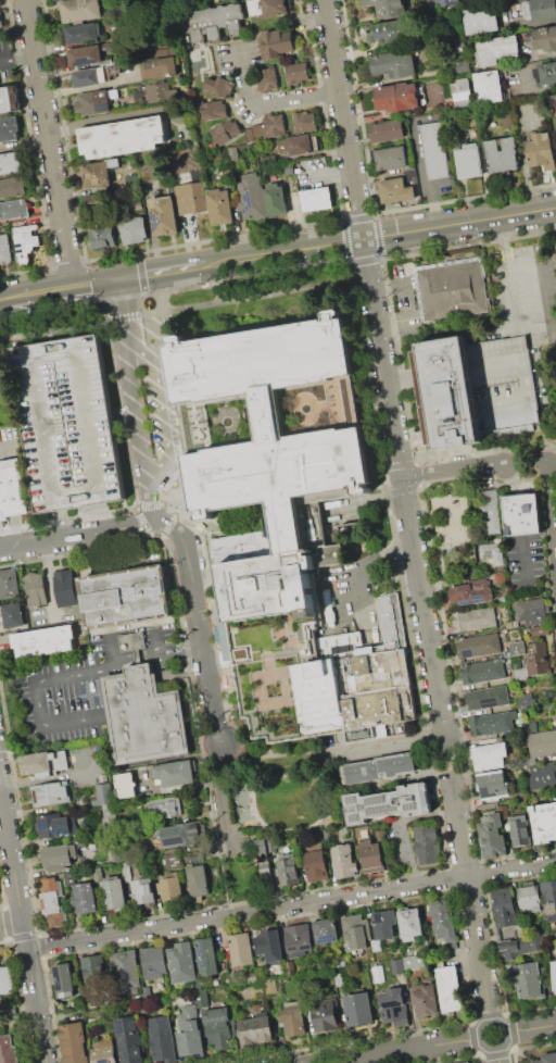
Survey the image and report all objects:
building: (51, 0)
building: (445, 3)
building: (268, 8)
building: (387, 8)
building: (539, 9)
building: (79, 10)
building: (211, 21)
building: (480, 21)
building: (387, 30)
building: (83, 34)
building: (544, 38)
building: (275, 43)
building: (496, 49)
building: (89, 53)
road: (17, 55)
building: (393, 64)
building: (459, 65)
building: (166, 66)
road: (242, 70)
building: (545, 73)
building: (296, 74)
building: (94, 75)
building: (266, 78)
building: (220, 87)
building: (488, 87)
road: (531, 90)
building: (160, 91)
building: (463, 92)
building: (396, 97)
road: (291, 99)
building: (9, 100)
building: (93, 102)
building: (213, 111)
building: (303, 121)
building: (507, 121)
building: (275, 126)
building: (9, 128)
building: (387, 130)
building: (225, 132)
building: (121, 137)
road: (49, 142)
building: (295, 146)
building: (434, 150)
building: (540, 151)
building: (232, 153)
building: (502, 154)
building: (390, 158)
building: (268, 161)
building: (469, 161)
building: (10, 162)
road: (420, 162)
building: (146, 172)
building: (99, 173)
road: (325, 174)
building: (12, 186)
building: (395, 190)
building: (191, 195)
building: (251, 196)
building: (316, 198)
building: (275, 200)
building: (219, 207)
building: (13, 209)
building: (163, 215)
building: (135, 230)
road: (376, 237)
building: (100, 240)
building: (25, 242)
road: (505, 242)
building: (555, 243)
building: (4, 249)
road: (159, 272)
traffic signals: (122, 278)
road: (97, 282)
road: (392, 287)
building: (451, 290)
road: (37, 291)
road: (1, 297)
road: (126, 310)
road: (542, 324)
road: (144, 353)
road: (383, 367)
building: (505, 385)
parking garage: (505, 385)
building: (454, 392)
road: (137, 414)
building: (68, 423)
parking lot: (68, 423)
road: (167, 429)
building: (271, 450)
road: (552, 461)
road: (526, 463)
road: (452, 467)
building: (12, 488)
road: (150, 502)
building: (489, 510)
building: (522, 515)
road: (551, 520)
park: (454, 529)
road: (78, 535)
building: (492, 552)
road: (99, 554)
road: (362, 574)
building: (498, 576)
building: (10, 583)
building: (66, 588)
building: (35, 589)
building: (470, 592)
road: (148, 596)
building: (125, 597)
road: (106, 600)
building: (531, 611)
building: (13, 614)
building: (478, 618)
building: (507, 625)
building: (540, 629)
road: (8, 640)
building: (43, 641)
road: (112, 642)
road: (155, 642)
building: (479, 646)
building: (515, 649)
road: (159, 652)
building: (538, 659)
road: (115, 671)
building: (482, 671)
building: (521, 673)
road: (207, 675)
building: (355, 677)
road: (36, 698)
building: (486, 698)
building: (526, 699)
building: (144, 714)
building: (494, 723)
building: (542, 743)
road: (388, 746)
building: (489, 755)
road: (450, 759)
building: (43, 763)
building: (379, 770)
building: (175, 773)
building: (542, 774)
road: (20, 784)
building: (126, 784)
building: (493, 785)
park: (280, 791)
building: (51, 792)
building: (103, 793)
building: (387, 803)
building: (164, 808)
building: (109, 810)
building: (544, 822)
building: (55, 825)
road: (274, 826)
road: (458, 829)
building: (520, 830)
building: (182, 834)
road: (249, 837)
building: (492, 837)
building: (427, 845)
road: (226, 852)
building: (59, 854)
building: (115, 854)
building: (371, 855)
building: (194, 856)
building: (173, 859)
building: (343, 861)
building: (264, 865)
building: (316, 865)
building: (126, 871)
road: (258, 872)
building: (289, 872)
park: (242, 875)
building: (69, 878)
building: (198, 880)
building: (170, 886)
road: (226, 888)
building: (142, 889)
building: (113, 895)
building: (529, 897)
building: (548, 897)
building: (85, 898)
building: (51, 900)
road: (291, 904)
building: (504, 908)
building: (443, 921)
road: (10, 922)
road: (22, 922)
building: (410, 923)
building: (326, 930)
building: (386, 931)
building: (354, 933)
building: (300, 940)
building: (269, 943)
building: (521, 948)
building: (240, 949)
road: (478, 949)
building: (205, 955)
building: (414, 961)
building: (153, 962)
building: (181, 962)
building: (396, 966)
building: (93, 967)
building: (290, 968)
building: (124, 973)
building: (378, 973)
building: (554, 974)
building: (250, 977)
building: (63, 978)
building: (5, 979)
building: (232, 979)
building: (339, 979)
building: (529, 980)
building: (270, 987)
building: (451, 990)
building: (201, 998)
building: (146, 999)
building: (425, 999)
building: (392, 1008)
building: (357, 1009)
building: (324, 1016)
building: (293, 1017)
building: (218, 1028)
road: (530, 1028)
building: (255, 1029)
building: (187, 1031)
building: (160, 1038)
building: (129, 1039)
building: (73, 1042)
road: (495, 1045)
road: (402, 1049)
building: (8, 1050)
building: (104, 1051)
road: (496, 1054)
building: (546, 1058)
building: (465, 1062)

